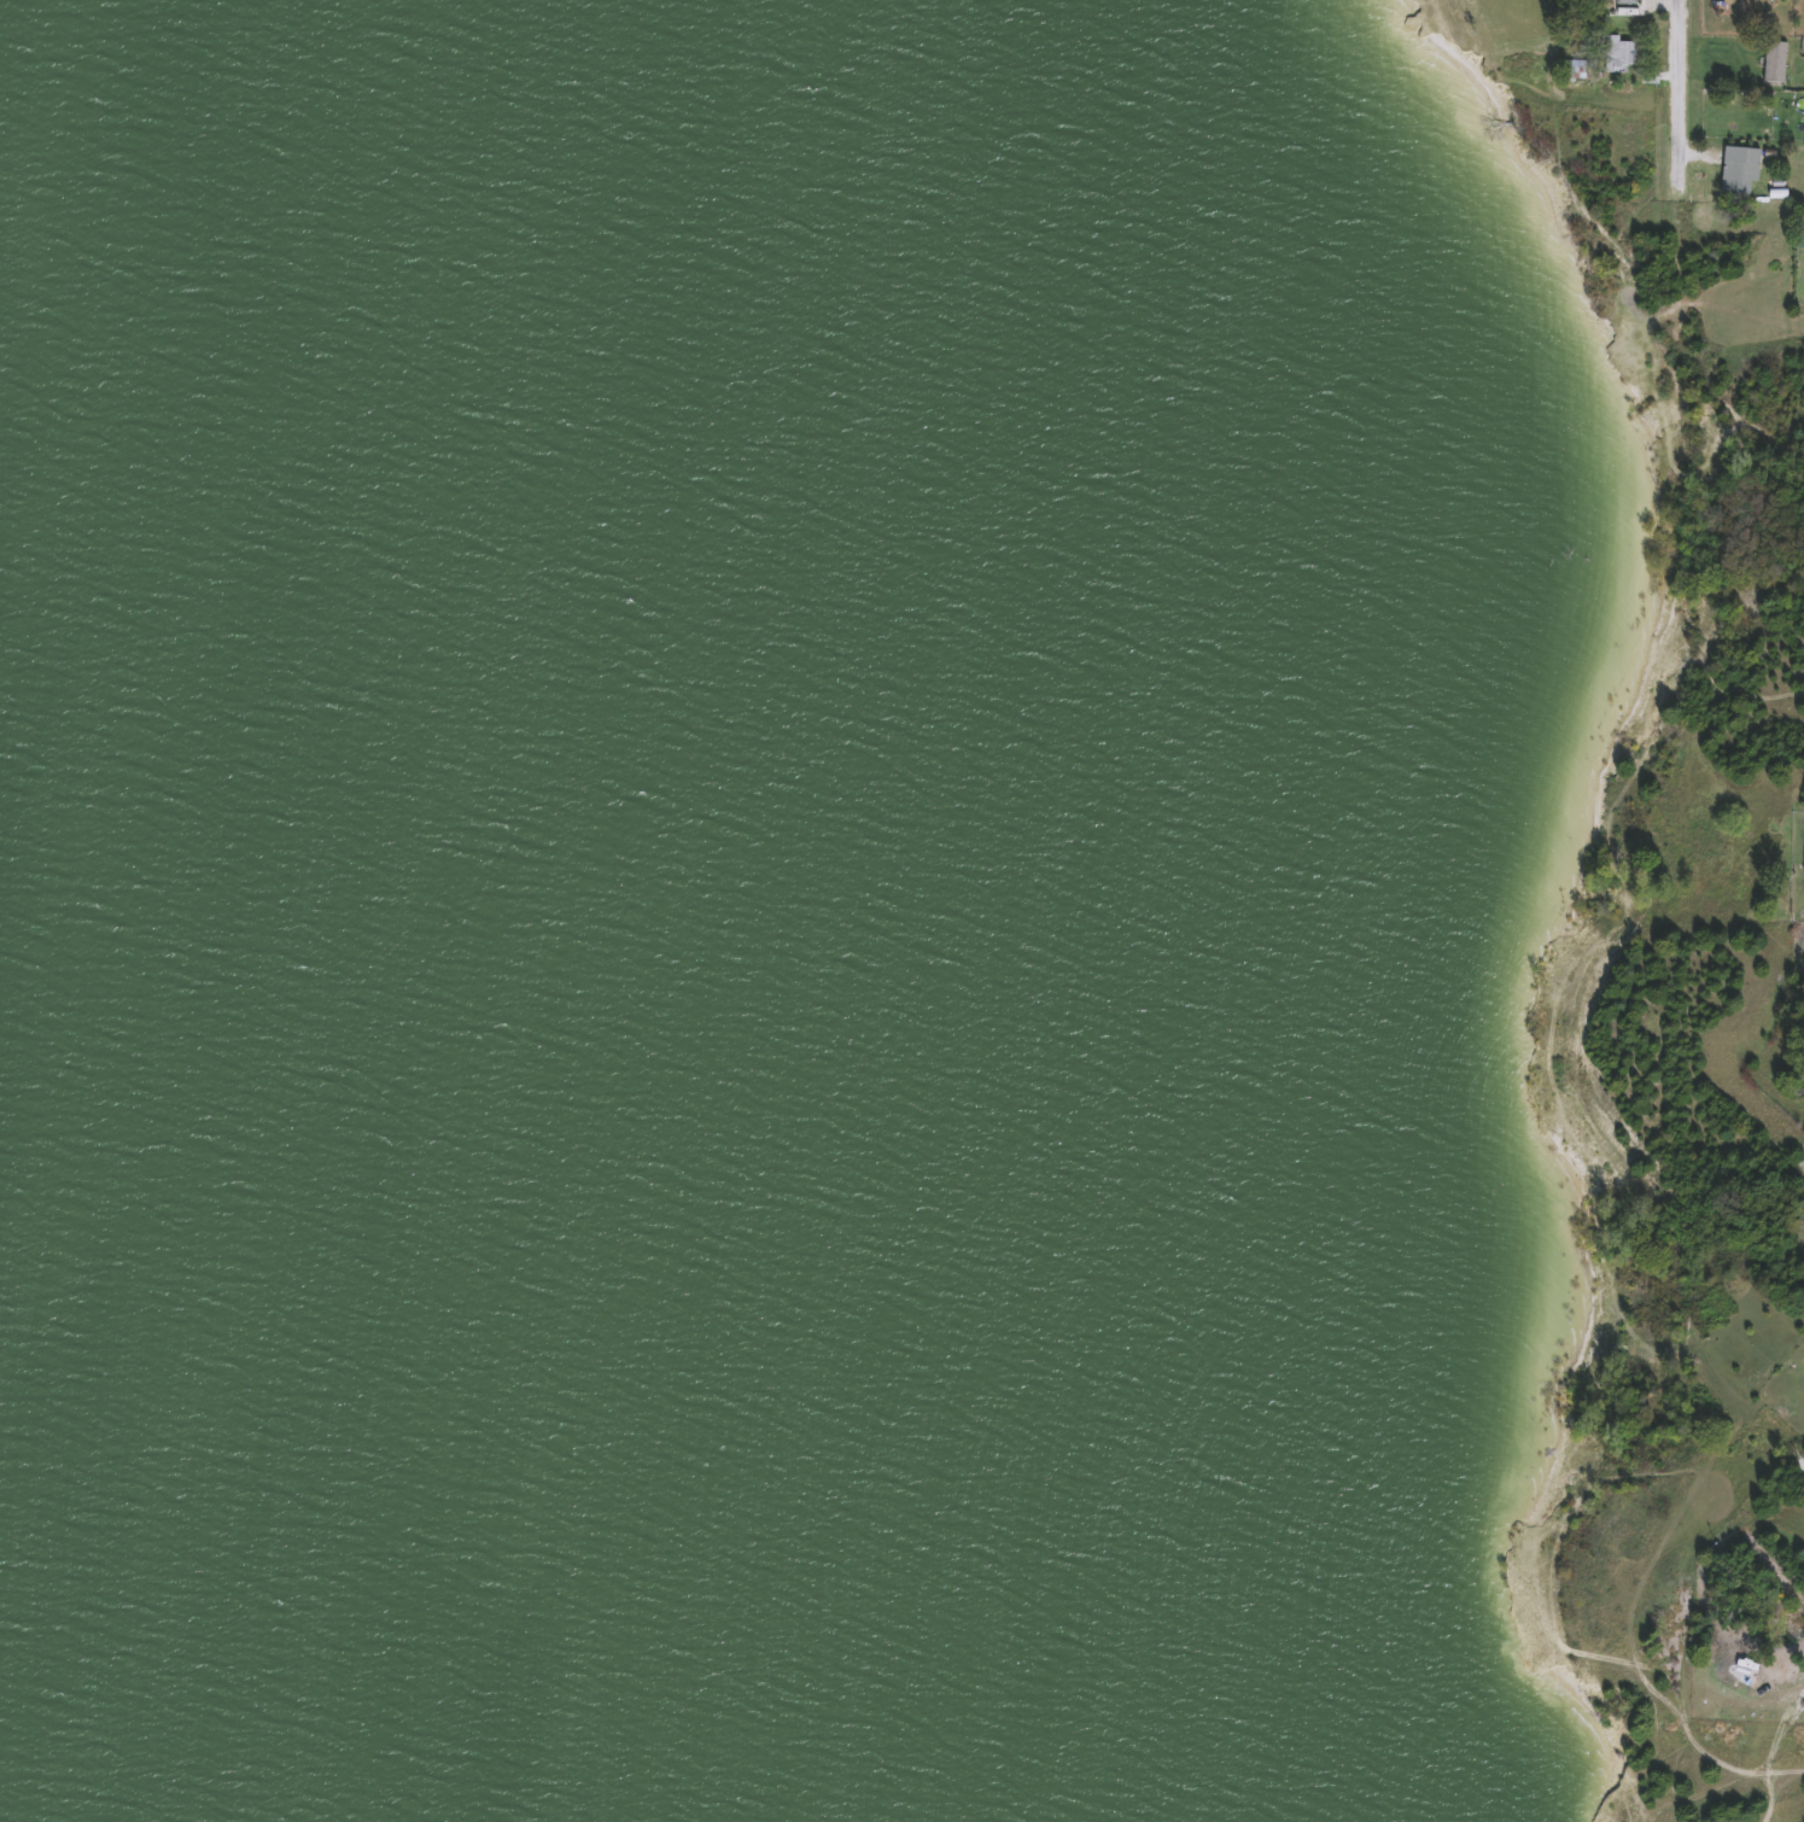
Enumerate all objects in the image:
building: (1623, 1)
building: (1615, 56)
building: (1773, 64)
road: (1691, 77)
building: (1736, 170)
building: (1803, 871)
road: (1783, 1437)

